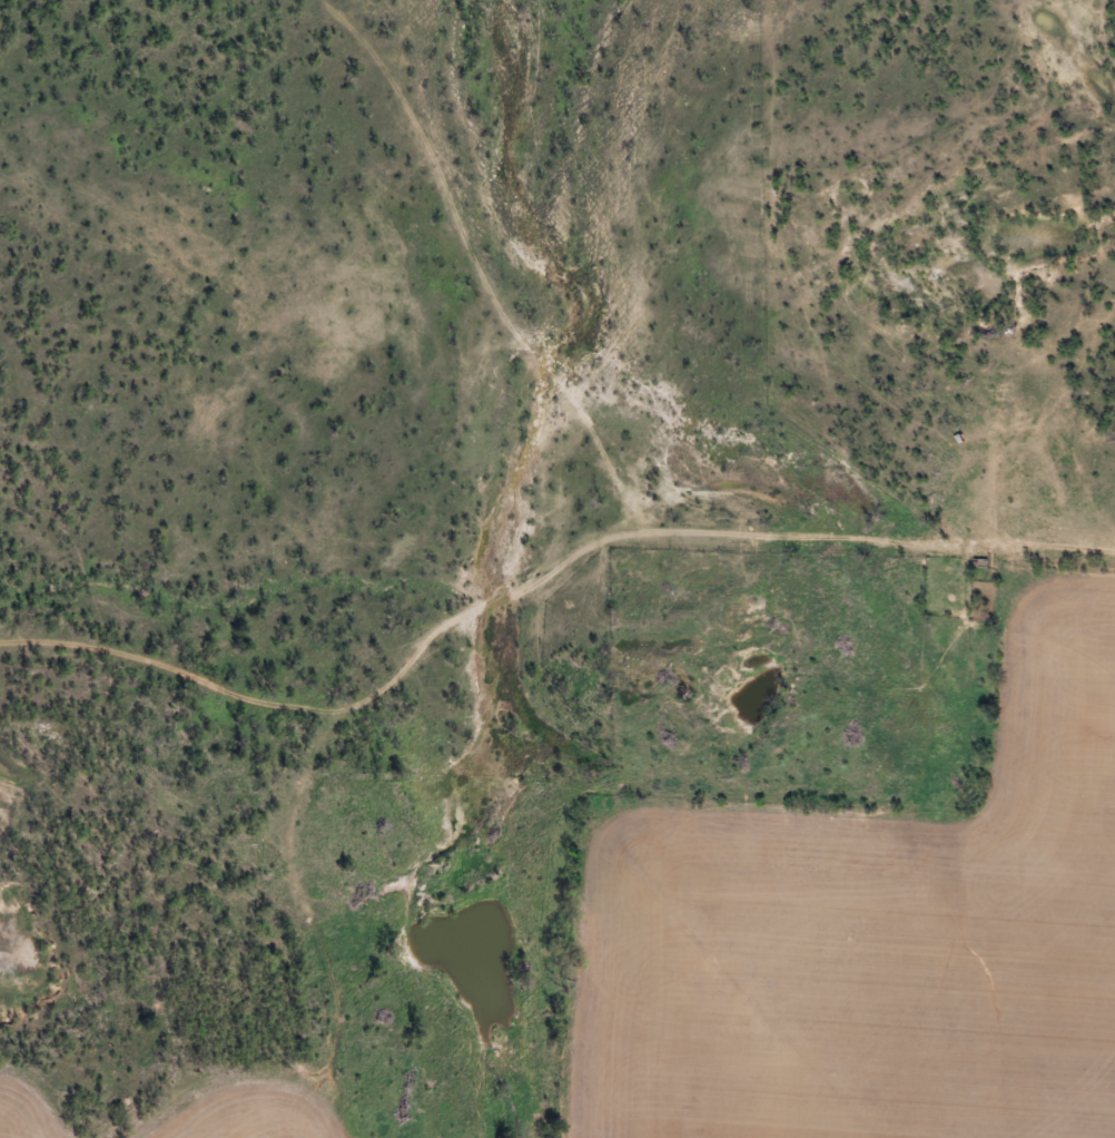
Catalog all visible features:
road: (534, 571)

